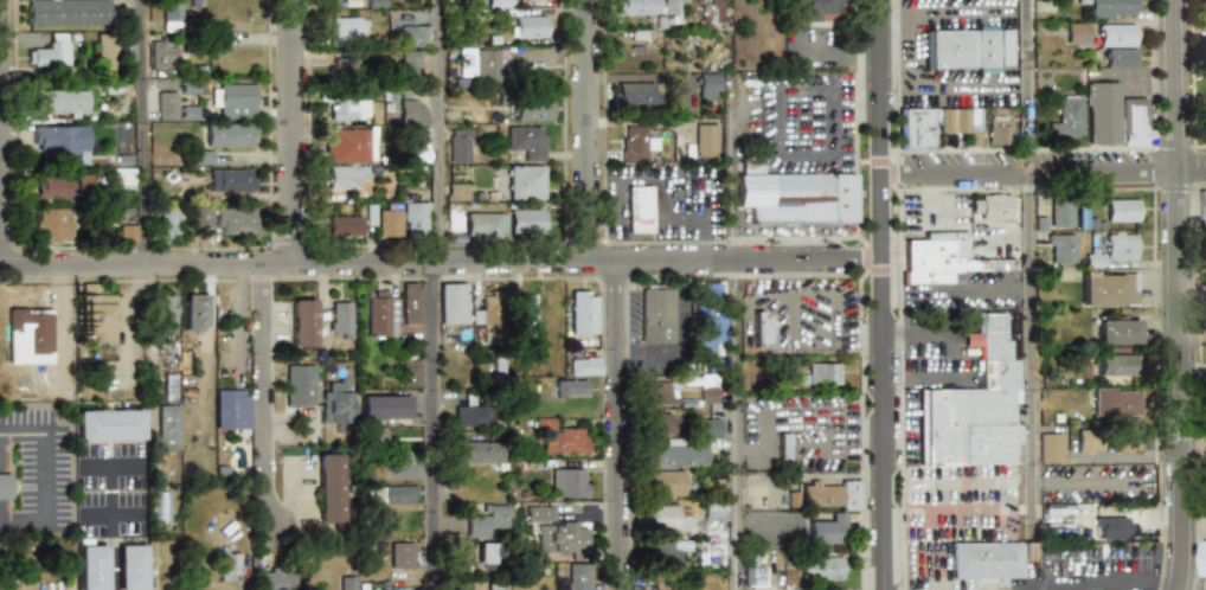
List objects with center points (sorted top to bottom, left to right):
building: (498, 5)
building: (648, 6)
building: (821, 8)
building: (1111, 8)
building: (1205, 11)
building: (70, 12)
building: (717, 12)
road: (942, 12)
building: (172, 14)
building: (530, 25)
building: (344, 27)
building: (415, 32)
building: (1077, 33)
building: (1116, 36)
road: (836, 45)
building: (969, 49)
building: (107, 51)
building: (49, 53)
building: (163, 56)
building: (1118, 57)
building: (409, 62)
building: (344, 66)
building: (485, 66)
building: (711, 82)
road: (917, 88)
building: (635, 94)
building: (233, 98)
building: (59, 102)
building: (166, 105)
building: (410, 107)
building: (348, 109)
building: (532, 109)
road: (854, 109)
building: (1117, 118)
building: (1066, 120)
building: (960, 122)
building: (916, 128)
road: (586, 130)
building: (999, 130)
road: (290, 132)
road: (143, 133)
building: (1202, 133)
building: (230, 135)
building: (706, 139)
building: (60, 140)
building: (346, 141)
building: (527, 141)
building: (635, 142)
building: (458, 146)
building: (417, 154)
building: (200, 158)
building: (750, 166)
road: (730, 168)
road: (1044, 171)
building: (346, 178)
building: (121, 179)
building: (231, 180)
building: (525, 182)
road: (685, 182)
building: (60, 186)
building: (796, 197)
building: (1201, 204)
building: (989, 205)
building: (639, 210)
building: (1122, 211)
building: (1061, 214)
building: (198, 216)
road: (662, 218)
building: (415, 219)
building: (235, 220)
building: (526, 220)
building: (167, 222)
building: (454, 222)
building: (389, 223)
building: (52, 224)
building: (485, 224)
building: (345, 226)
building: (127, 233)
building: (1121, 246)
building: (1061, 249)
building: (932, 256)
building: (1093, 261)
road: (440, 262)
road: (1028, 267)
building: (1108, 288)
road: (434, 294)
road: (881, 294)
road: (1175, 295)
building: (453, 302)
building: (412, 303)
building: (527, 308)
building: (488, 309)
building: (166, 310)
building: (195, 312)
building: (583, 312)
building: (96, 313)
building: (381, 314)
building: (660, 314)
building: (710, 316)
building: (340, 319)
building: (302, 322)
building: (763, 328)
building: (1116, 331)
road: (922, 334)
building: (30, 335)
building: (1117, 364)
building: (584, 365)
building: (410, 372)
building: (823, 374)
road: (918, 380)
building: (300, 385)
building: (571, 389)
building: (707, 389)
building: (660, 393)
road: (264, 395)
building: (1116, 402)
building: (338, 405)
building: (384, 406)
building: (974, 406)
building: (232, 409)
building: (470, 415)
building: (110, 421)
building: (168, 423)
building: (657, 423)
road: (733, 424)
road: (618, 425)
building: (710, 427)
building: (560, 438)
building: (1089, 441)
building: (783, 450)
road: (47, 451)
building: (477, 453)
building: (675, 454)
road: (124, 463)
building: (569, 482)
building: (669, 482)
building: (5, 486)
road: (930, 486)
building: (329, 487)
building: (393, 494)
building: (826, 494)
road: (110, 511)
building: (713, 513)
road: (110, 514)
building: (665, 517)
building: (482, 520)
building: (1114, 527)
building: (827, 530)
building: (560, 531)
building: (667, 552)
building: (402, 553)
building: (489, 553)
building: (992, 558)
building: (1202, 559)
building: (92, 565)
building: (131, 565)
building: (230, 565)
building: (821, 567)
building: (752, 575)
building: (577, 577)
building: (270, 579)
building: (347, 583)
road: (1159, 584)
building: (494, 585)
road: (1080, 585)
road: (1012, 588)
road: (1018, 588)

